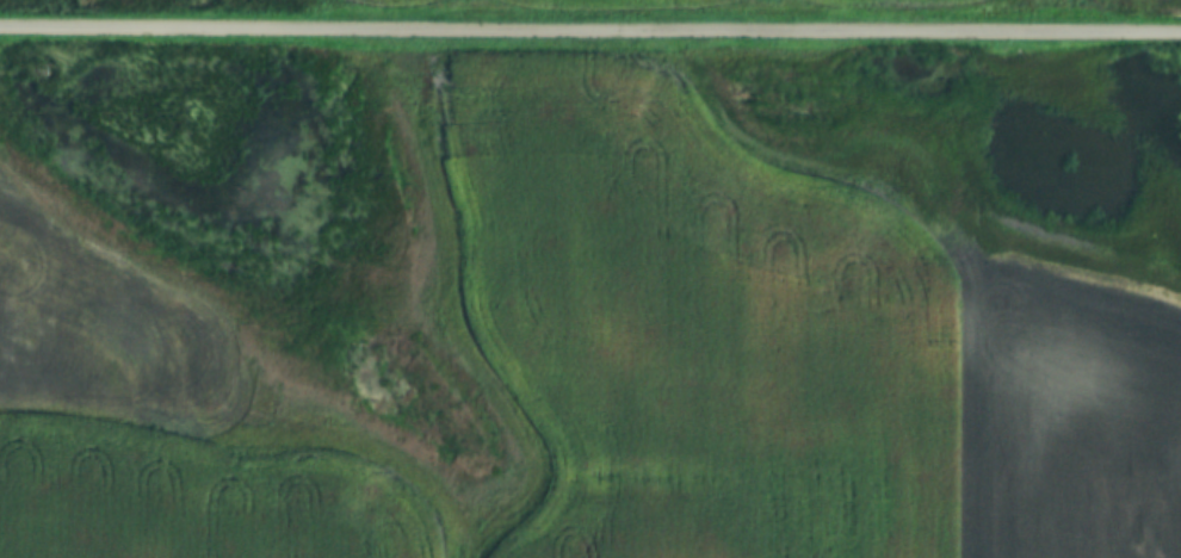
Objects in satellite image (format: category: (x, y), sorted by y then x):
road: (589, 35)

